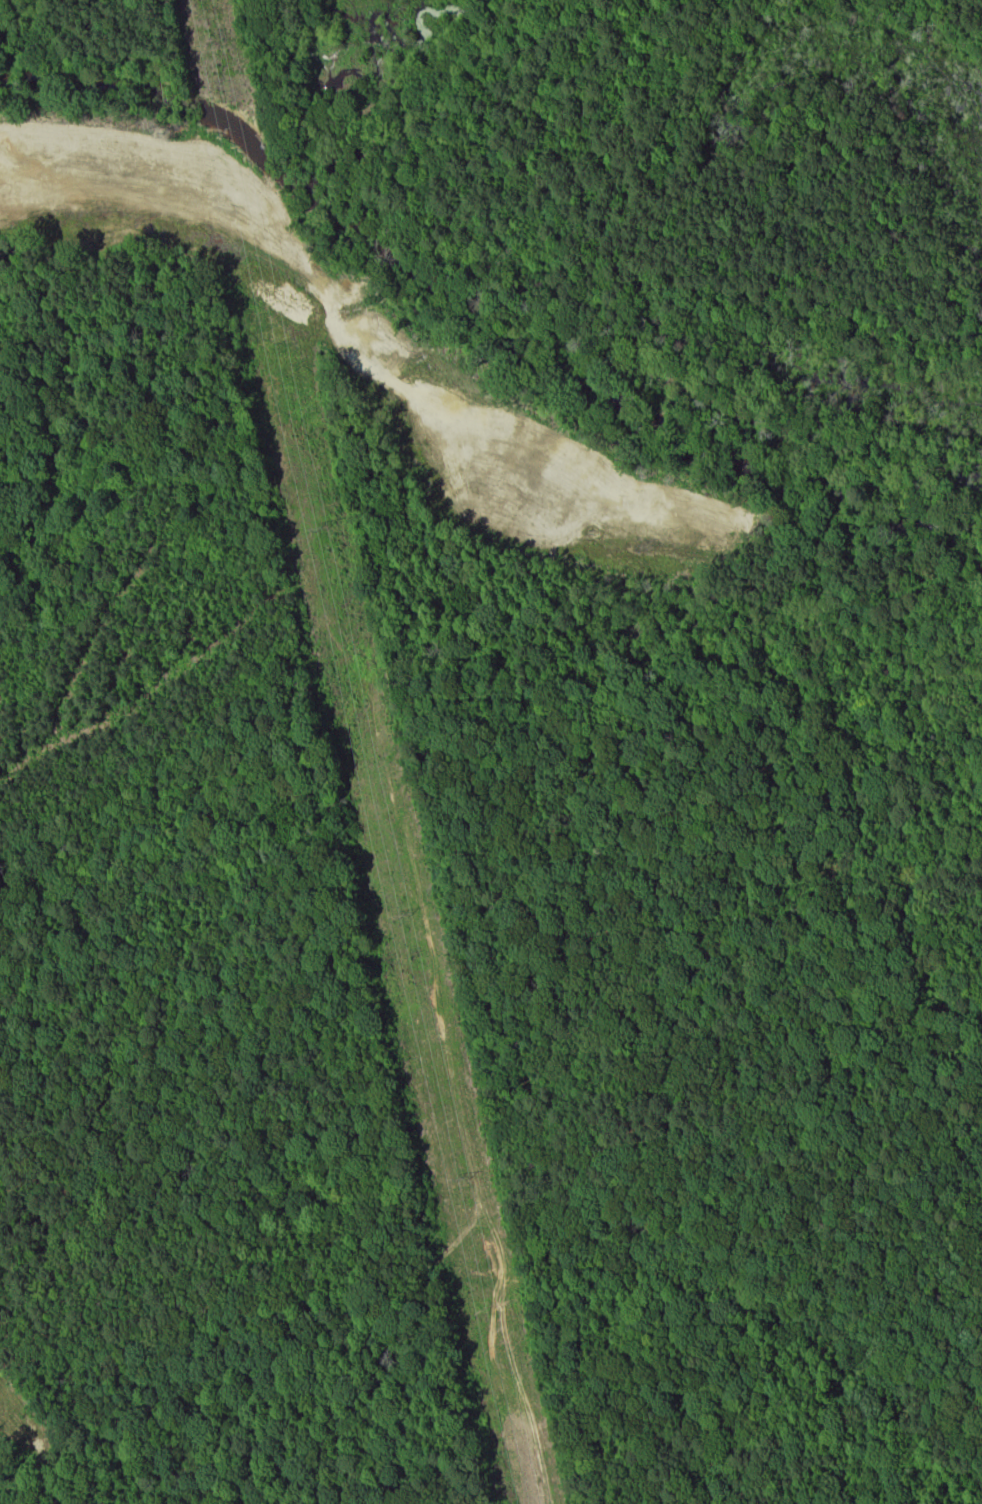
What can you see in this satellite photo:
river: (473, 306)
power tower: (316, 530)
power tower: (396, 916)
power tower: (465, 1179)

